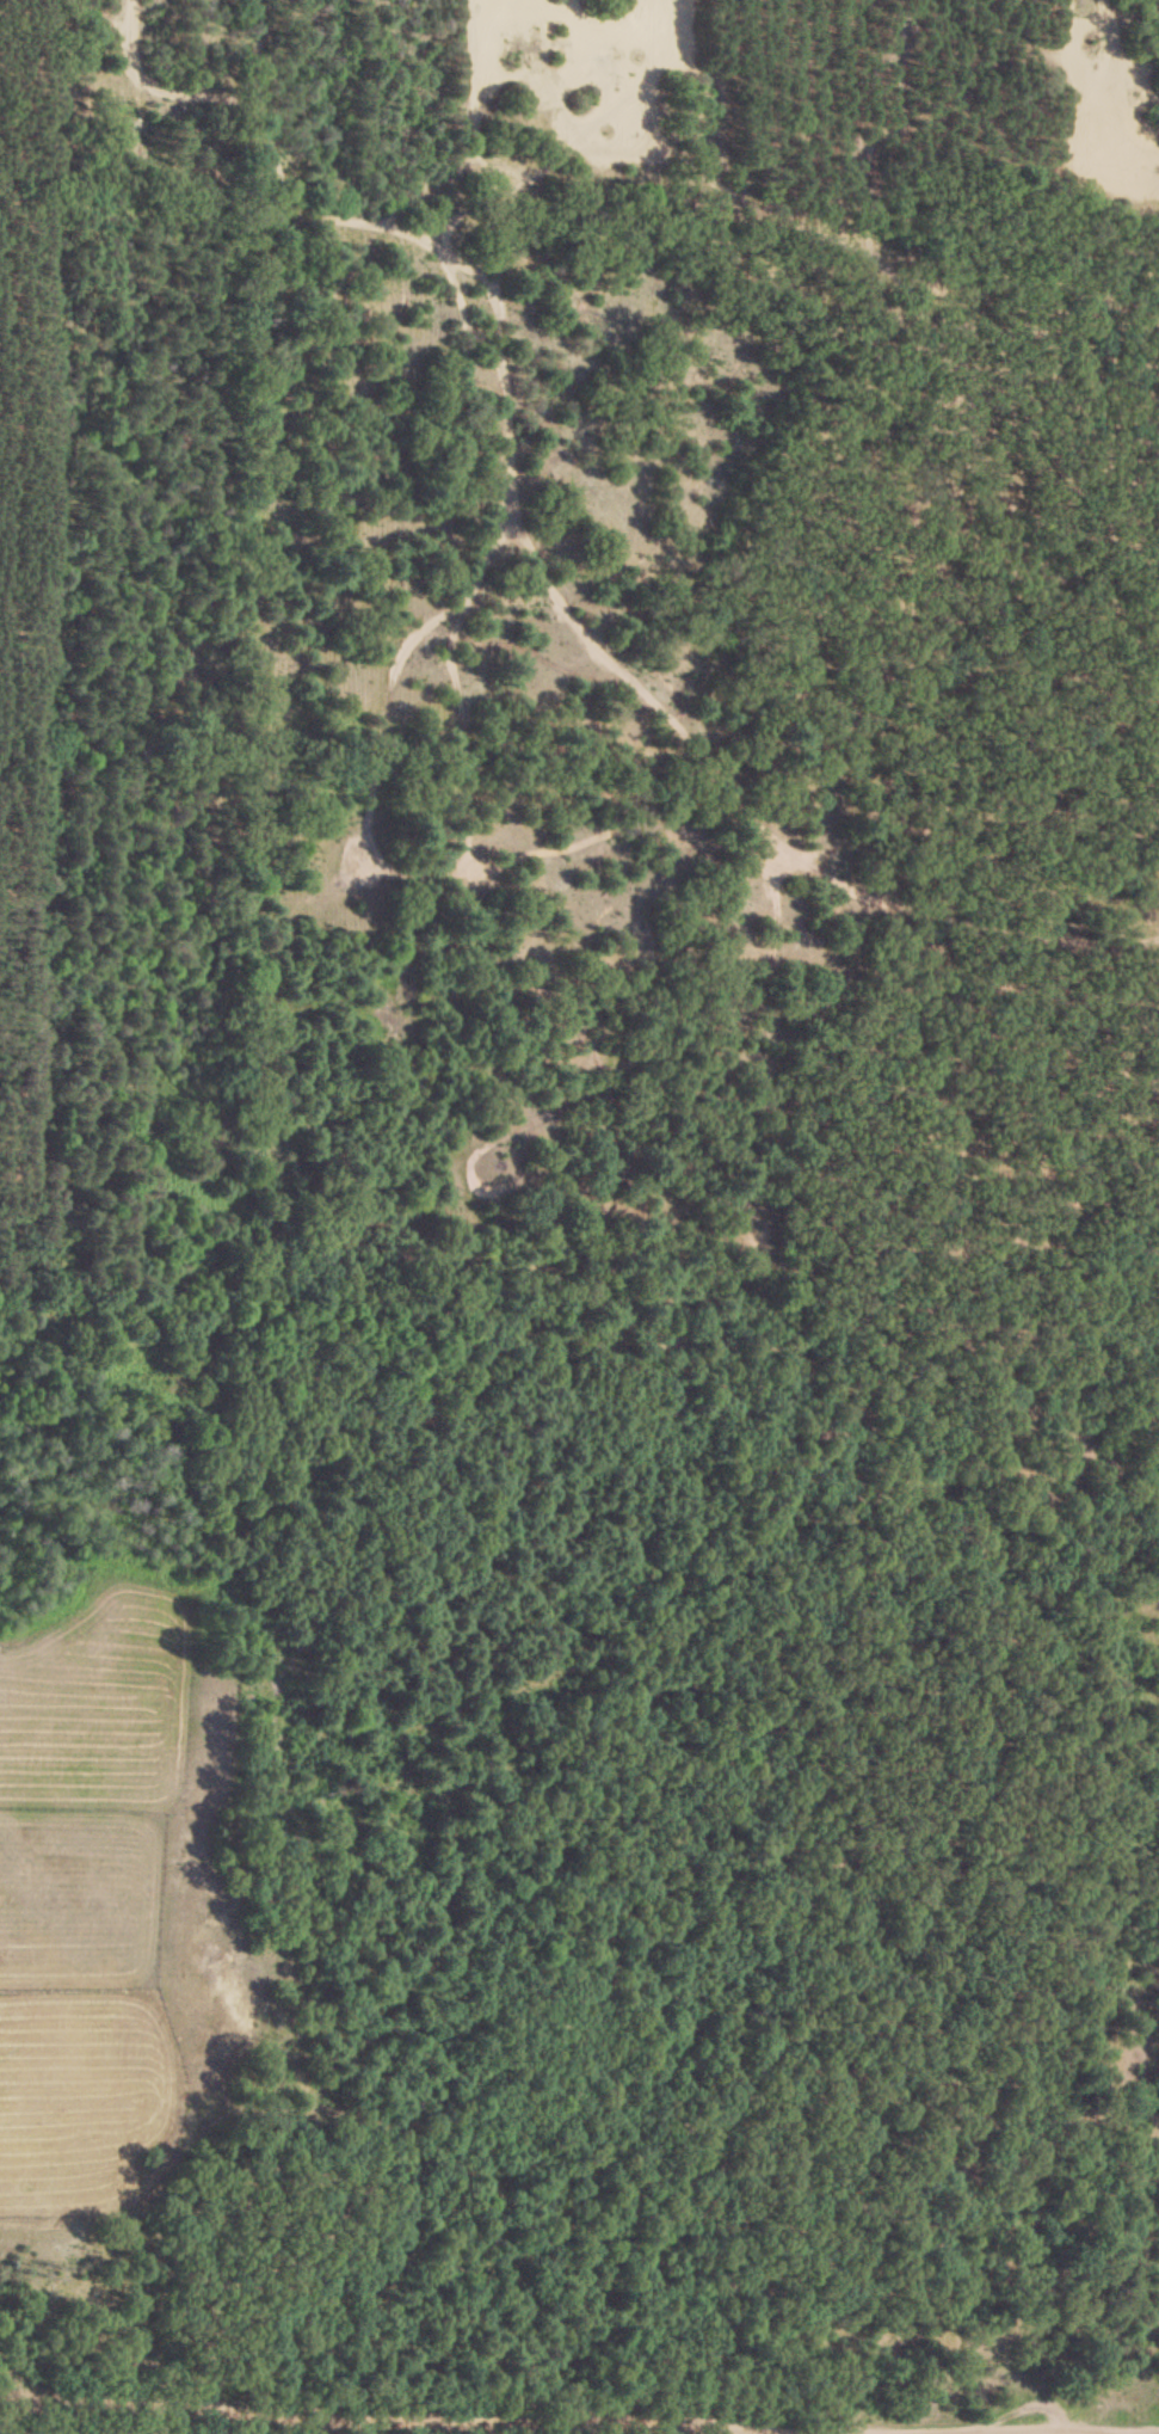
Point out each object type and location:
road: (579, 2420)
road: (1135, 2430)

